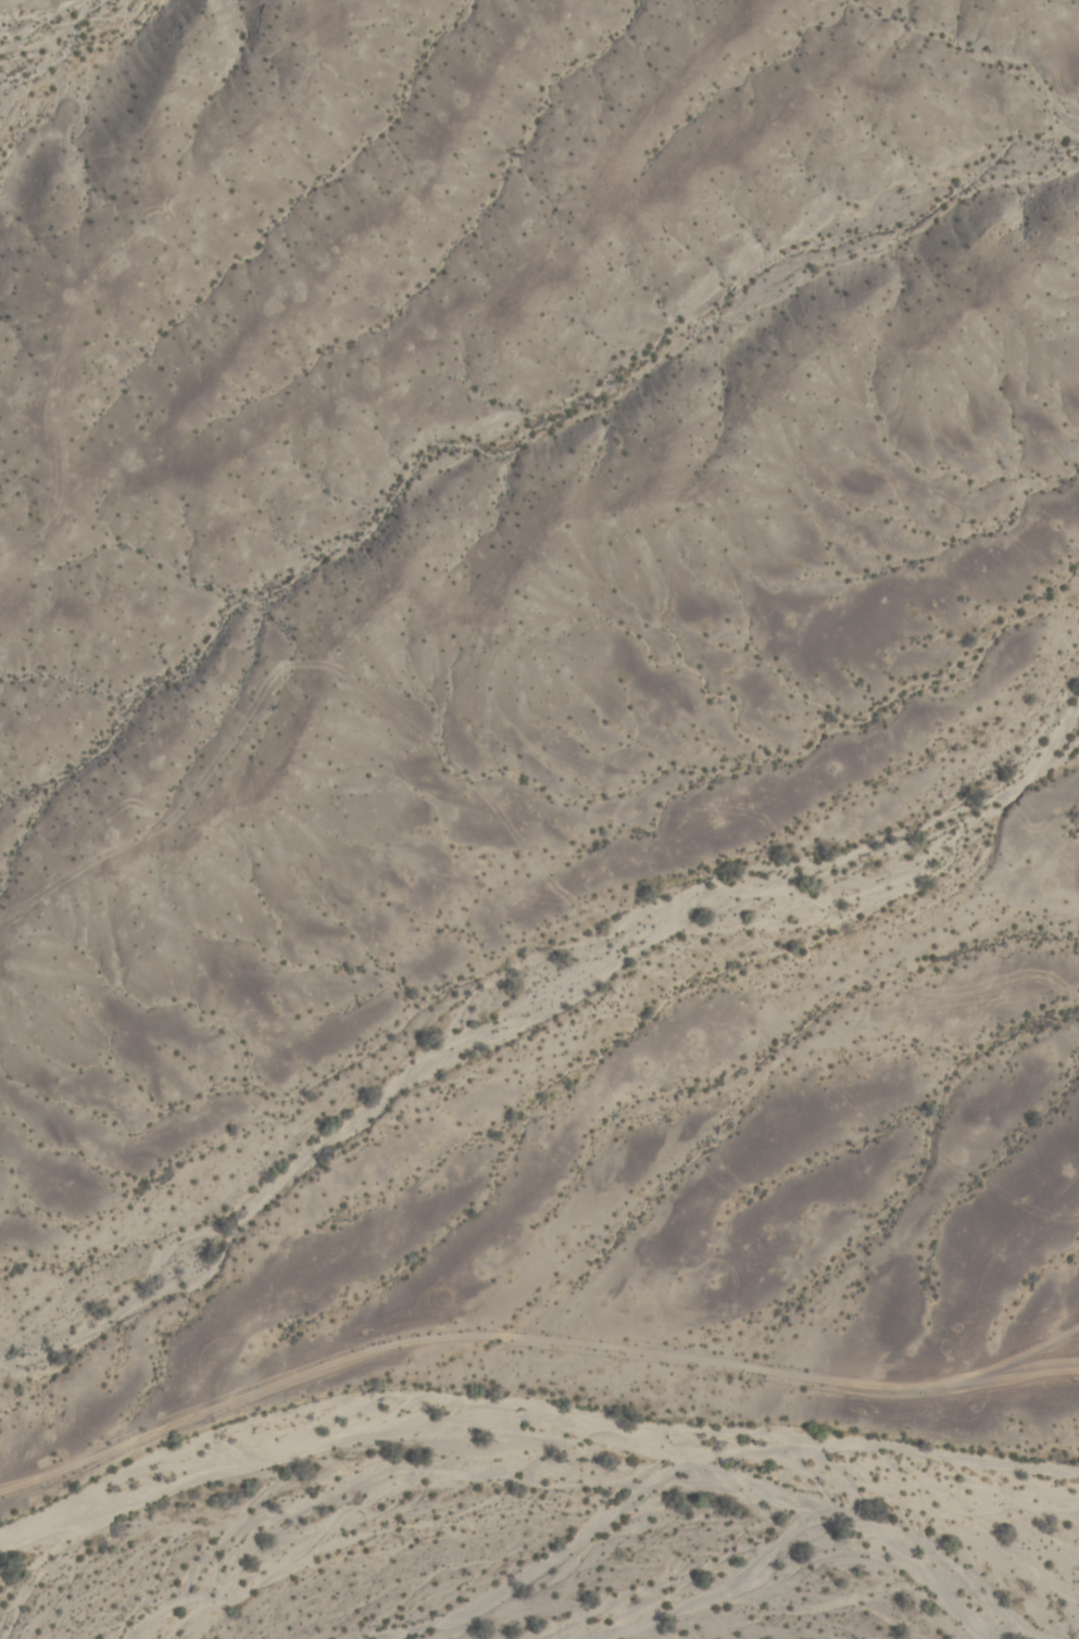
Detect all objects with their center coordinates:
road: (535, 1339)

